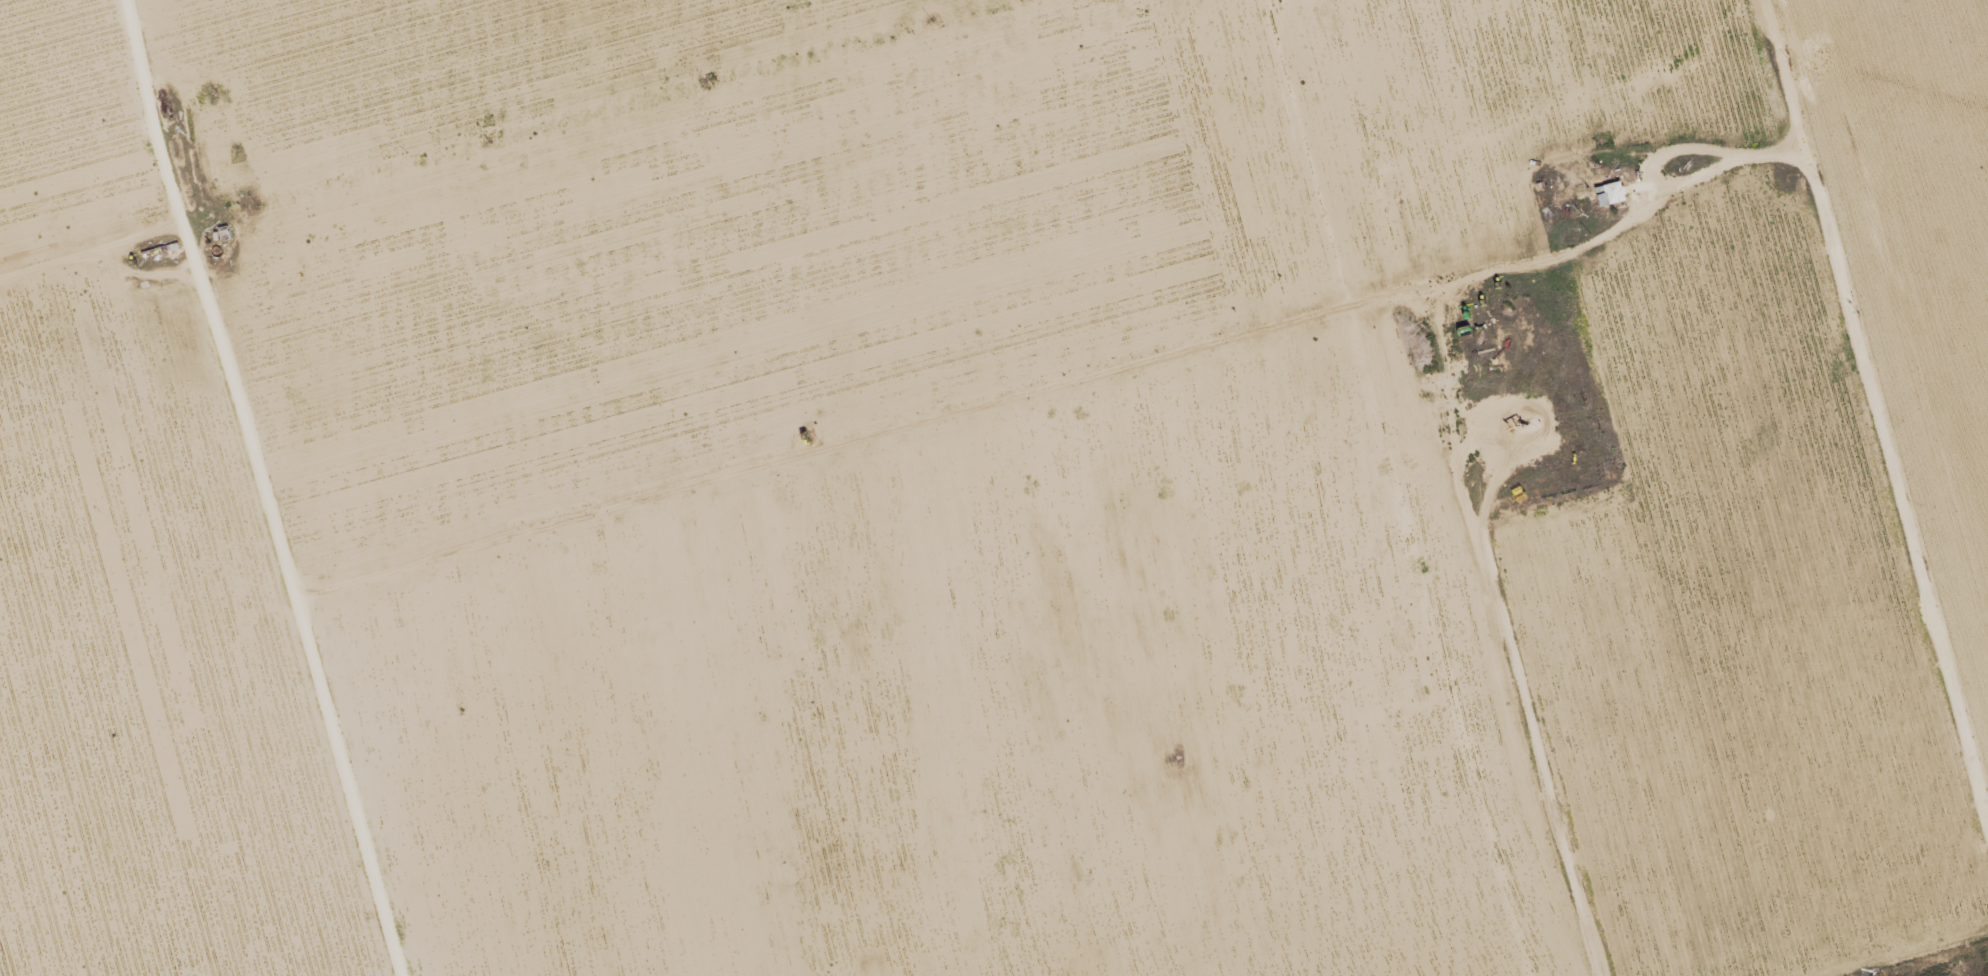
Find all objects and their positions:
road: (1876, 403)

